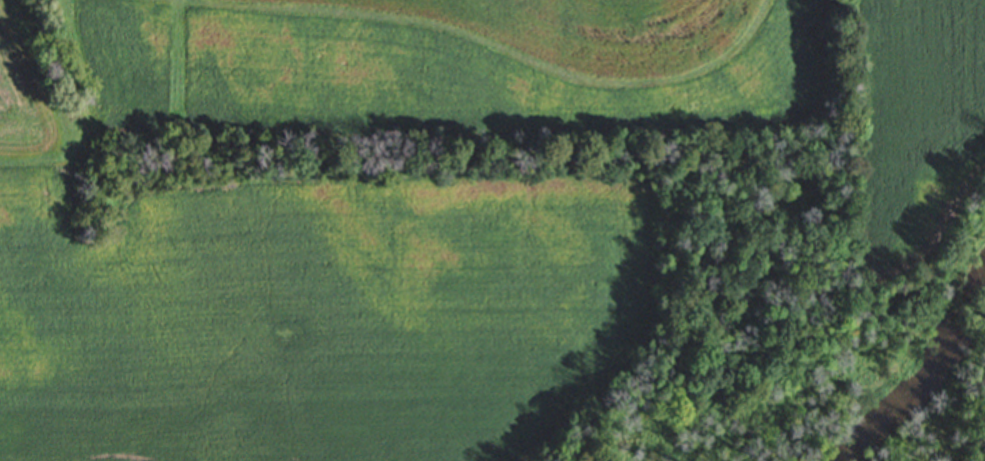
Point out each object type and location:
river: (926, 378)

